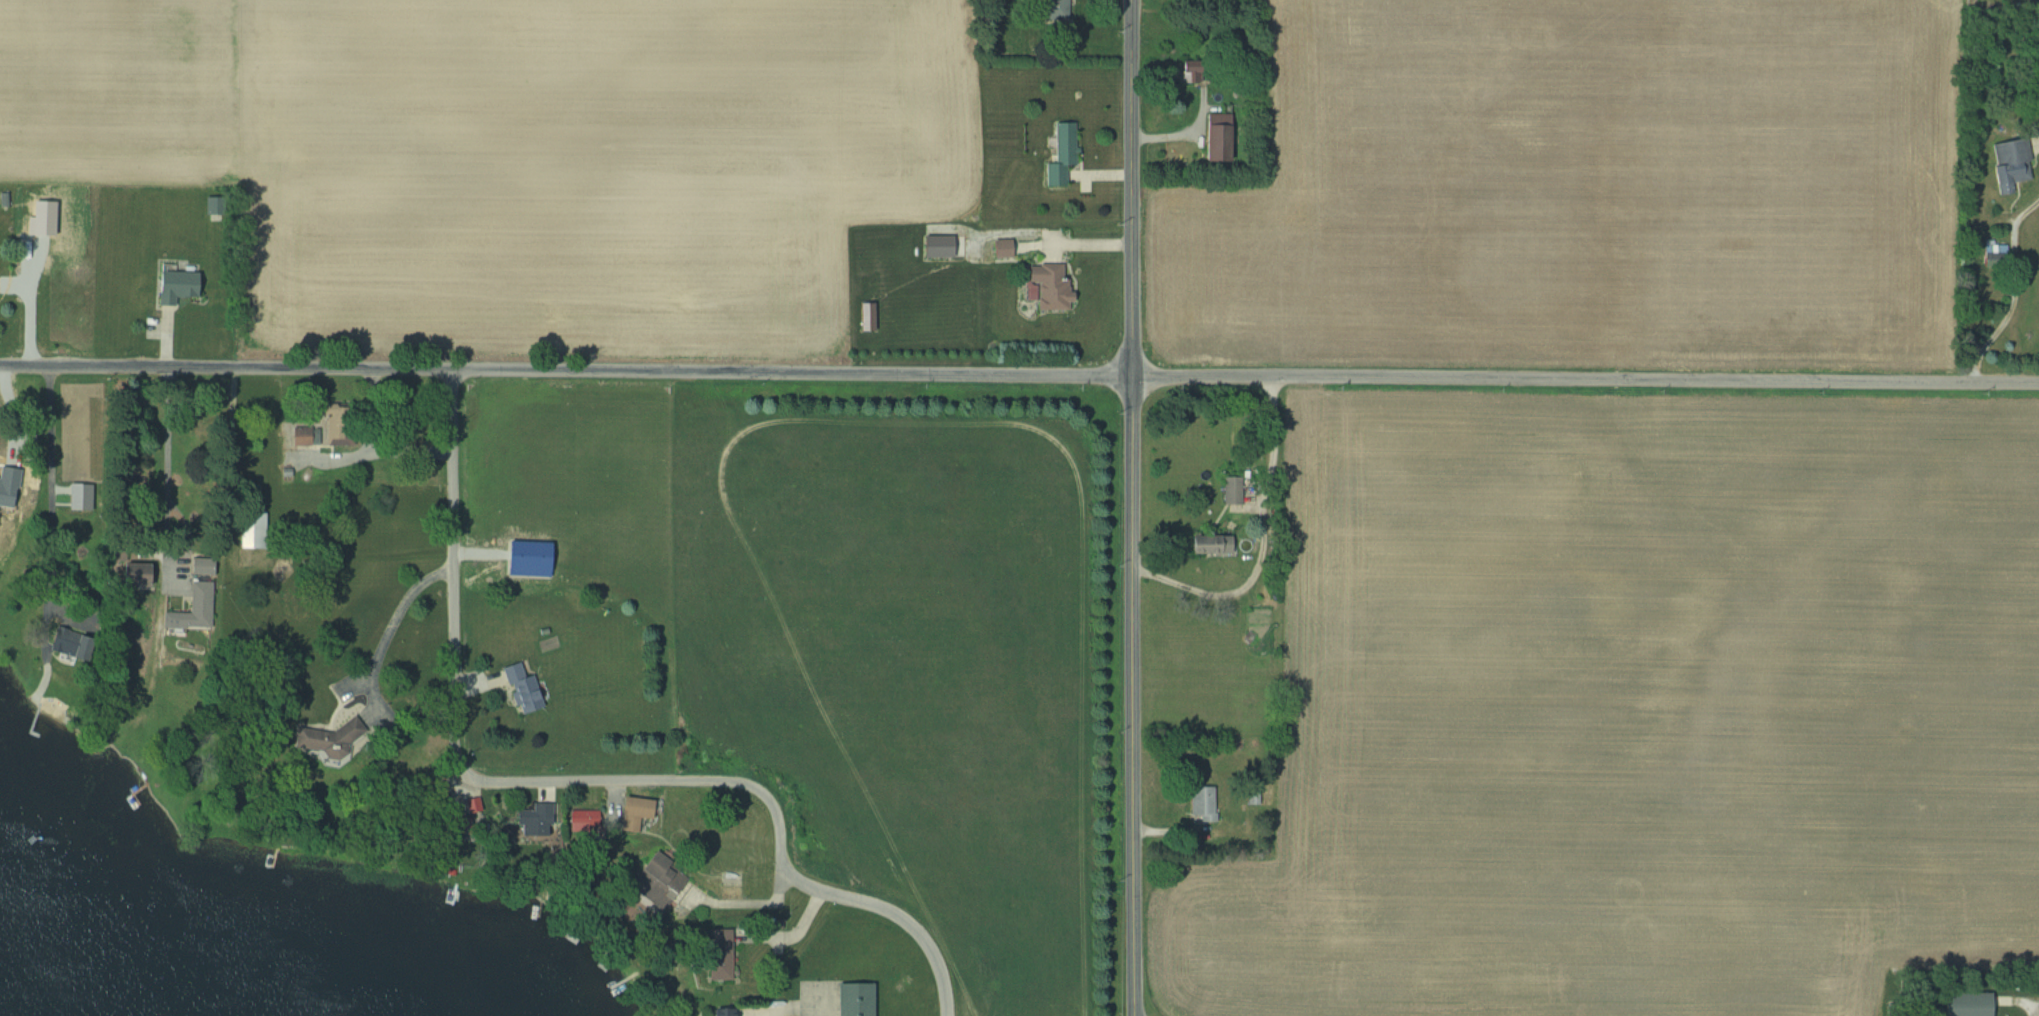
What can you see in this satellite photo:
building: (1053, 8)
building: (1187, 71)
building: (1214, 137)
building: (1057, 153)
building: (2007, 163)
road: (1132, 188)
building: (999, 248)
building: (170, 285)
building: (1045, 285)
road: (2016, 291)
road: (225, 367)
road: (793, 372)
road: (1586, 379)
building: (299, 434)
road: (399, 451)
road: (149, 458)
road: (50, 488)
building: (24, 490)
building: (1239, 492)
building: (250, 526)
building: (1207, 544)
building: (130, 574)
road: (1207, 592)
building: (188, 609)
road: (392, 621)
building: (518, 688)
road: (1135, 695)
road: (570, 782)
building: (1200, 803)
building: (467, 805)
building: (632, 813)
building: (528, 819)
building: (580, 821)
building: (646, 879)
road: (794, 932)
building: (714, 942)
building: (850, 999)
building: (1963, 1004)
road: (778, 1011)
building: (713, 1012)

